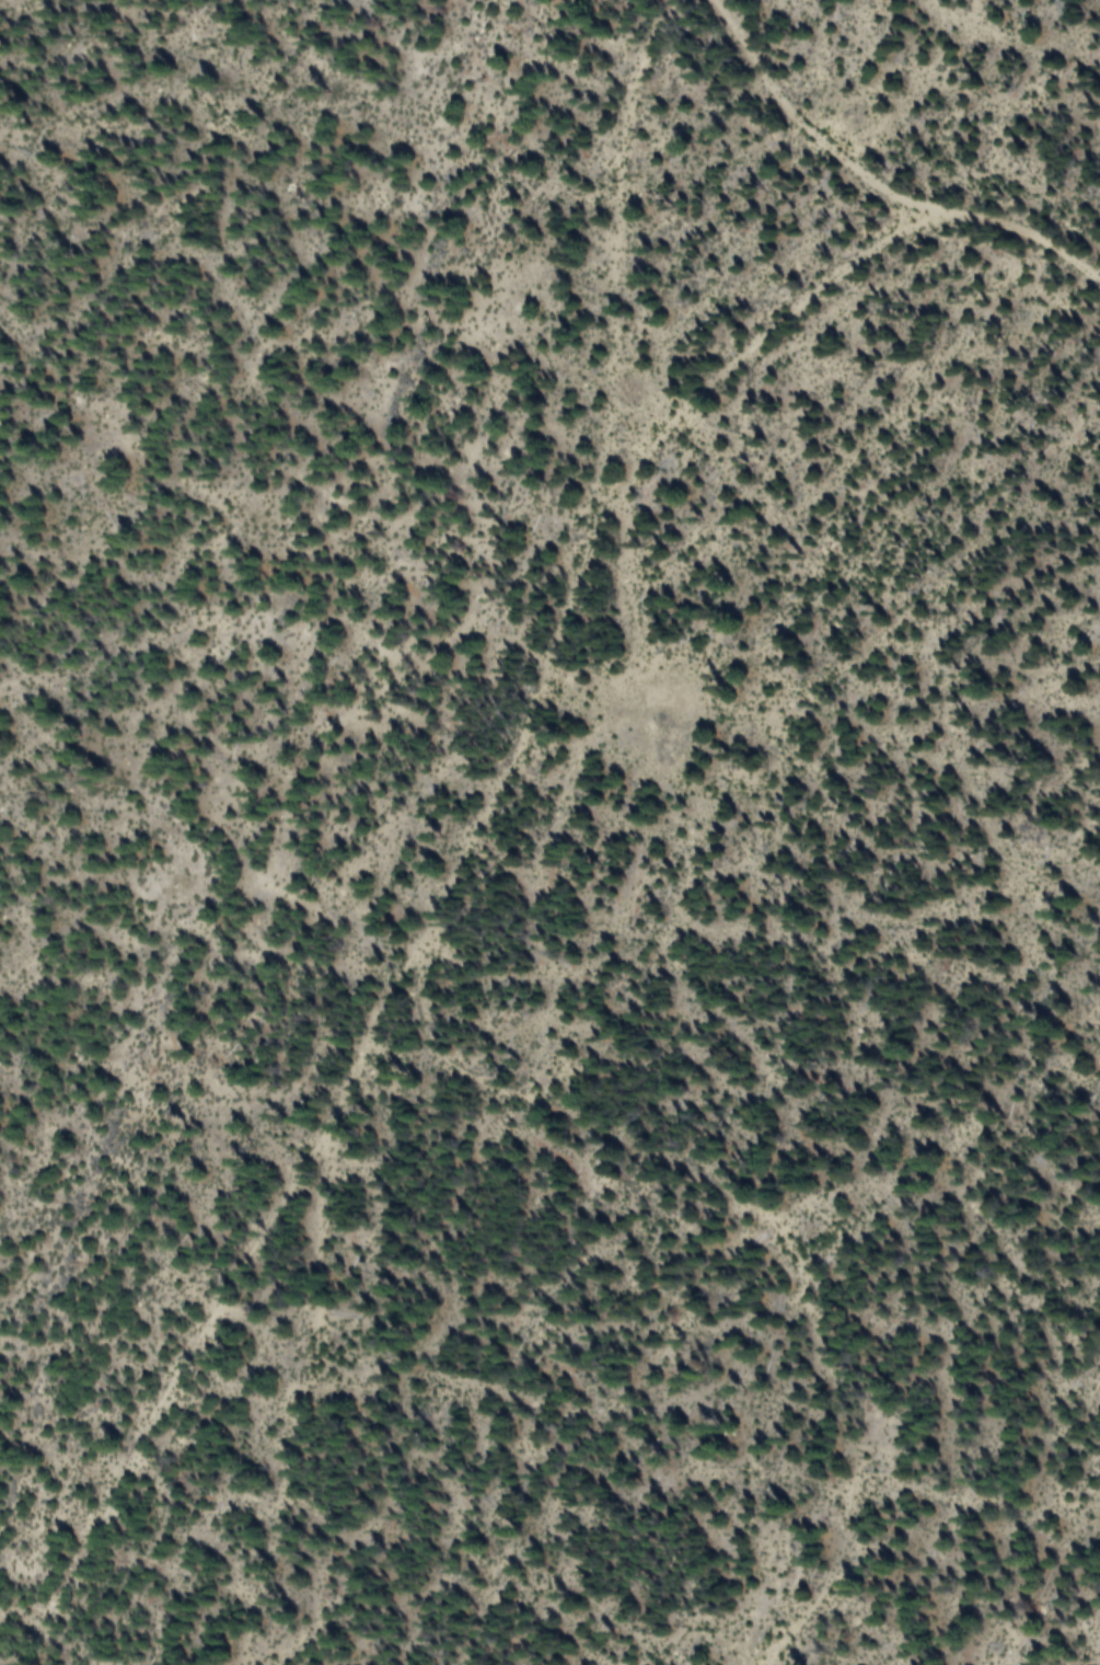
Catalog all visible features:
road: (901, 175)

